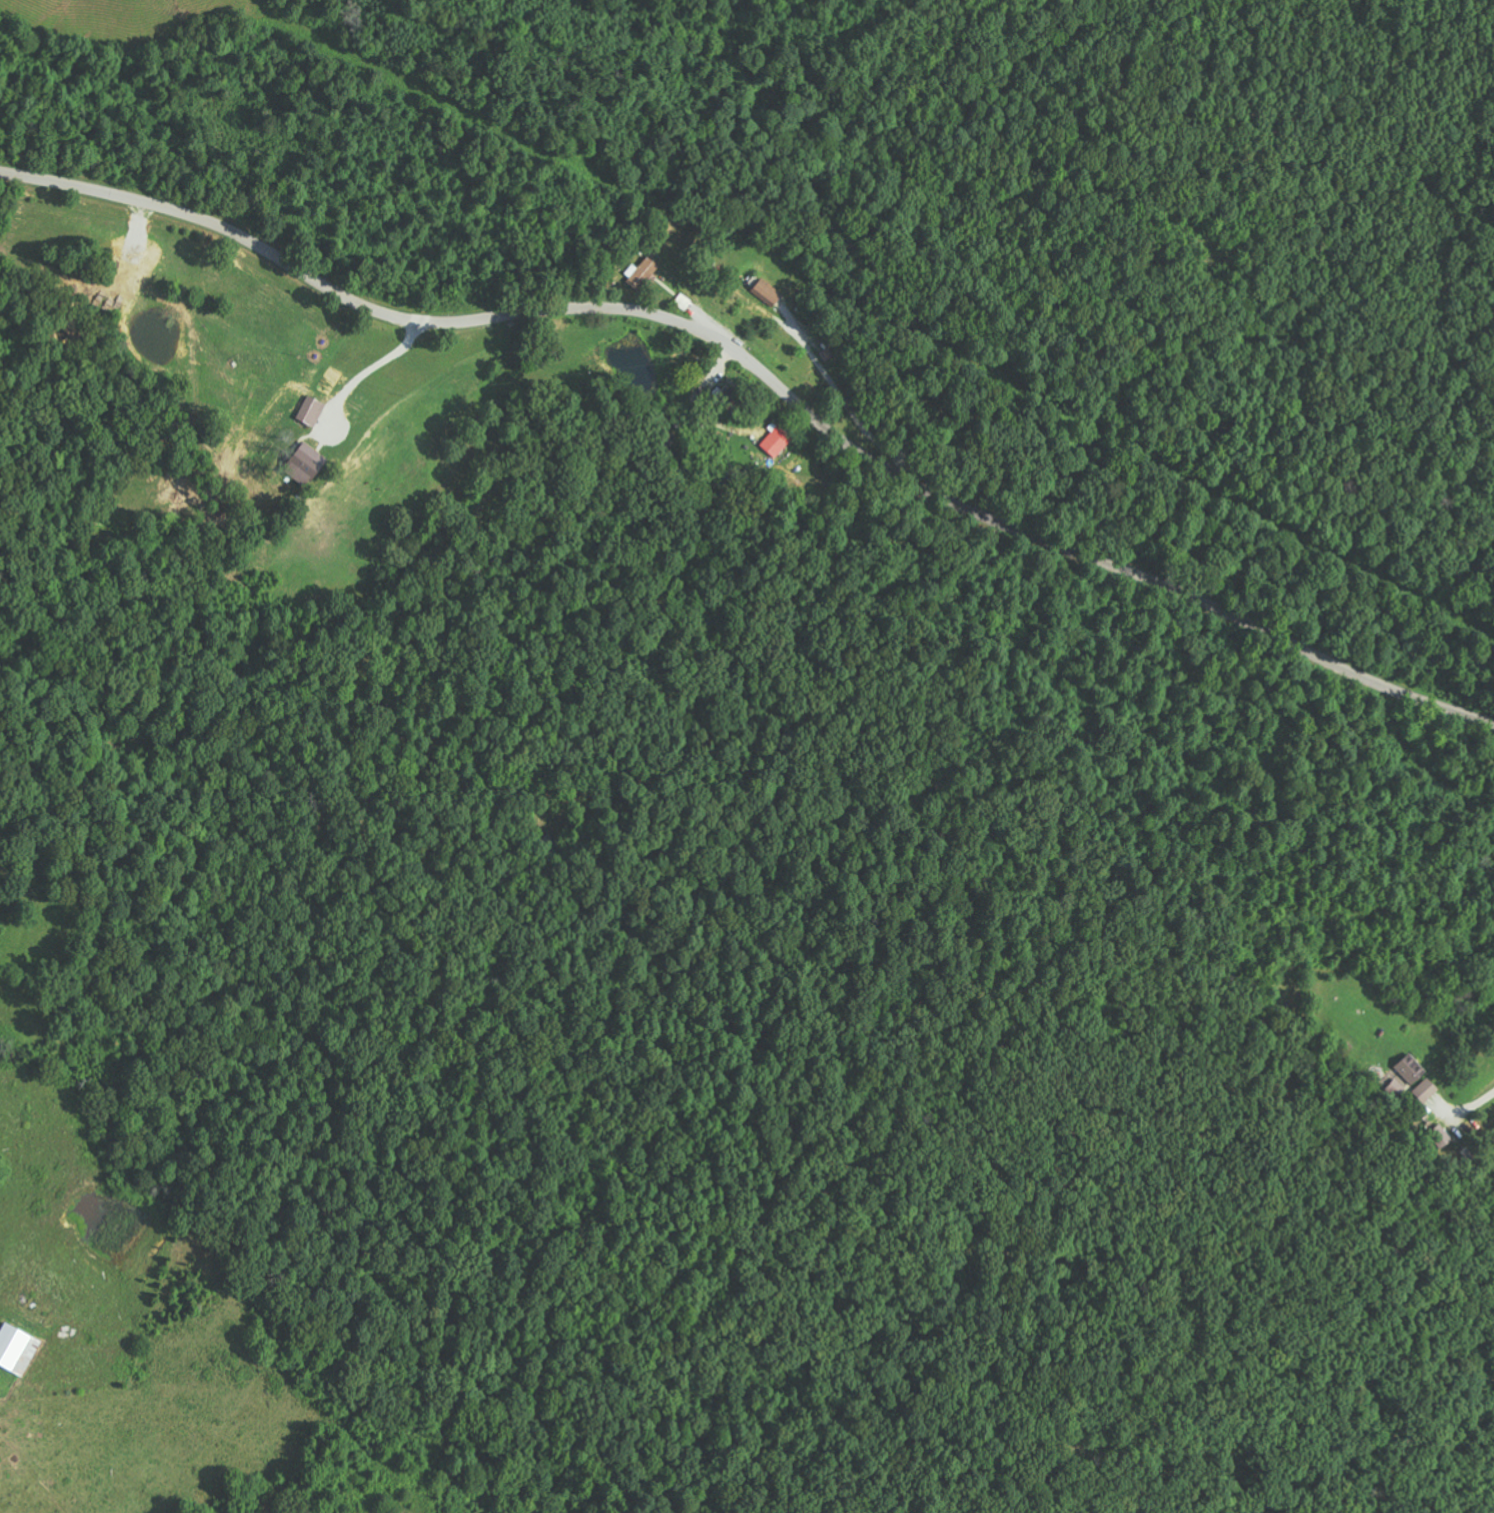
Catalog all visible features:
building: (643, 272)
building: (767, 294)
road: (762, 379)
building: (731, 398)
building: (312, 411)
building: (778, 441)
building: (307, 465)
road: (1156, 1010)
building: (1411, 1070)
building: (1427, 1090)
building: (18, 1350)

